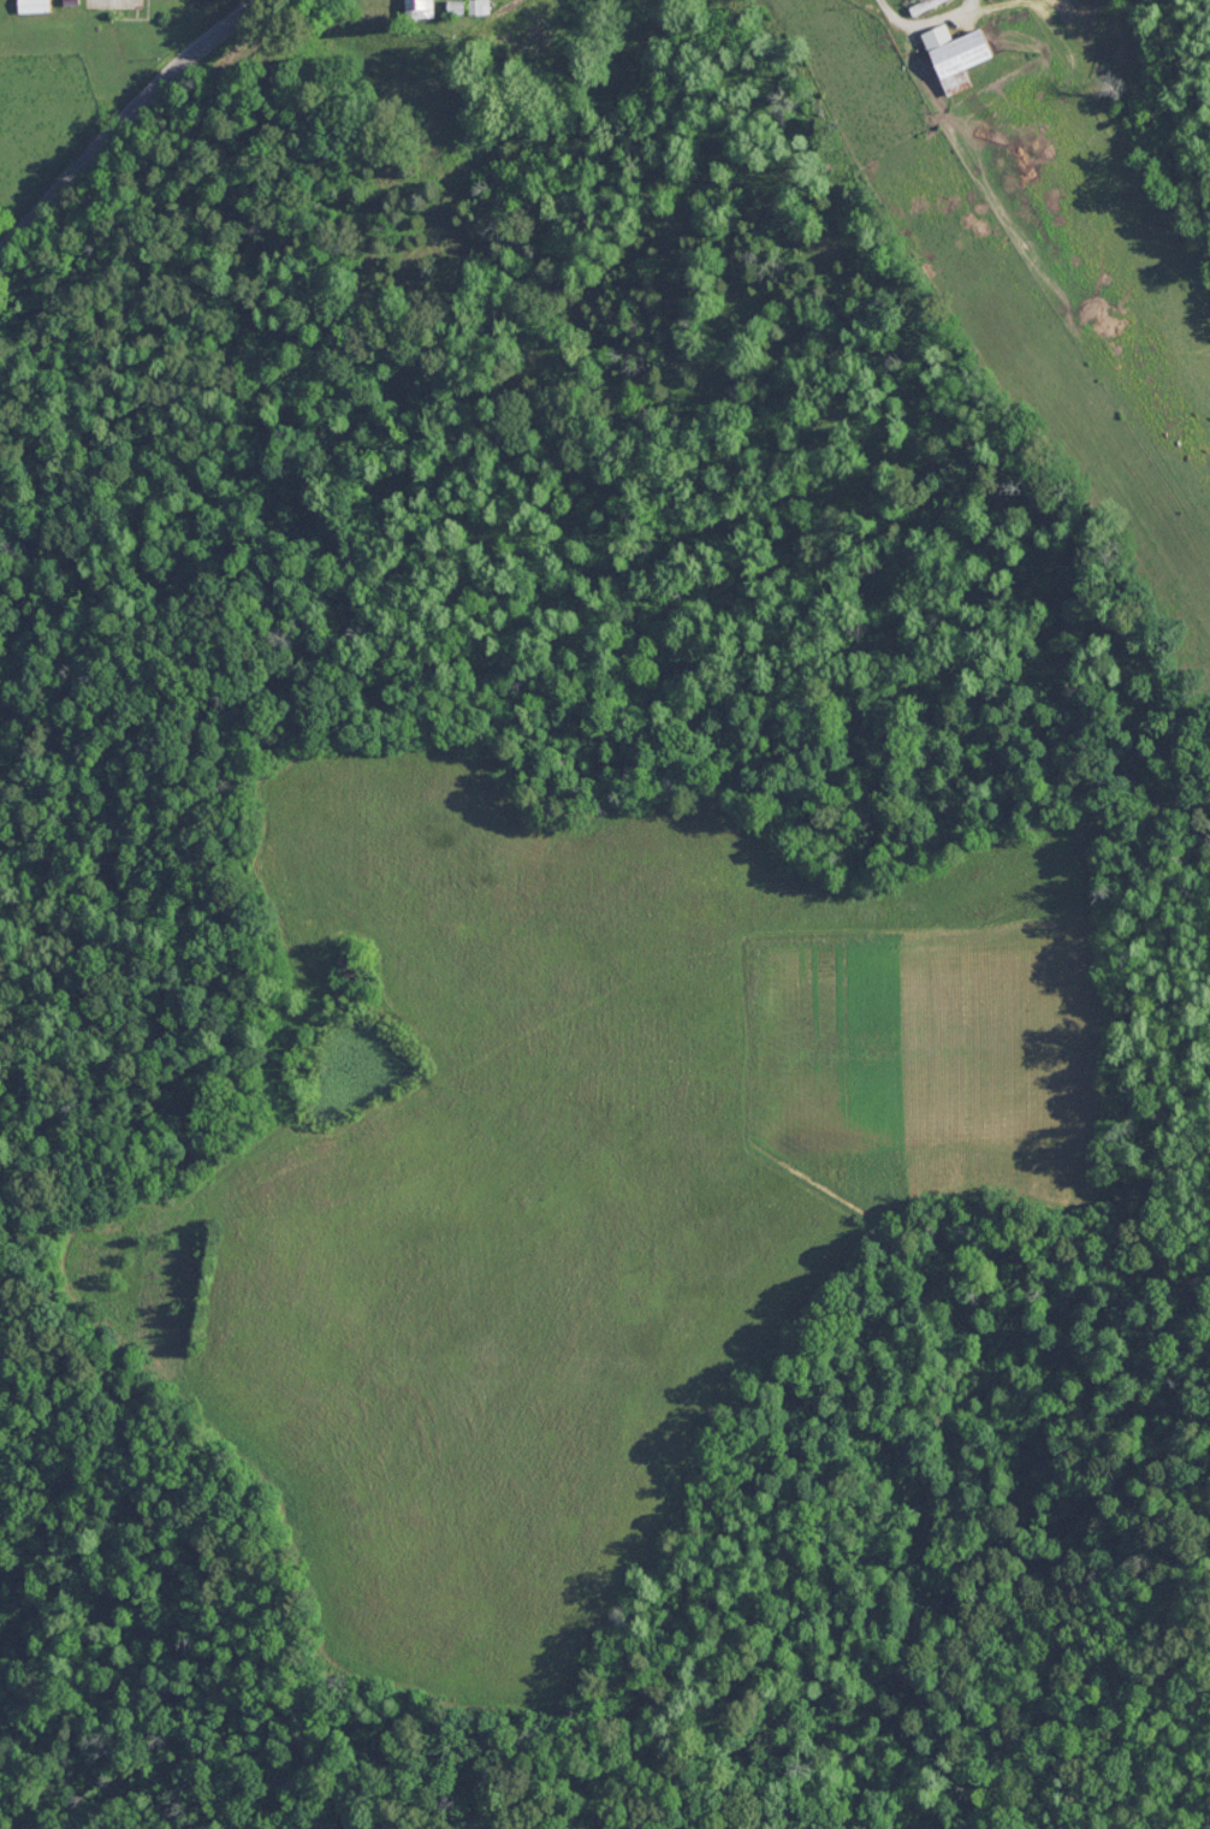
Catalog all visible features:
building: (123, 4)
building: (485, 5)
building: (43, 6)
building: (459, 6)
building: (420, 8)
building: (959, 55)
road: (120, 119)

